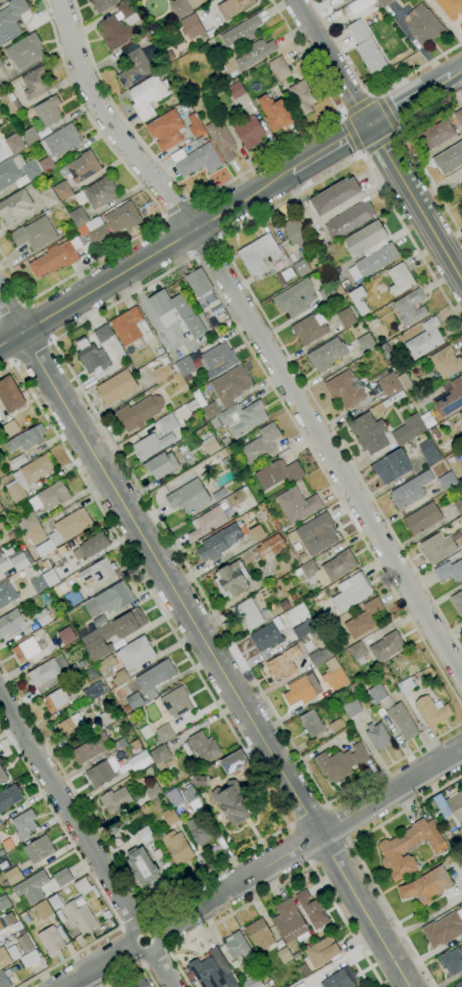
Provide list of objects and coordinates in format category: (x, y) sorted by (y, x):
building: (1, 0)
building: (346, 0)
building: (342, 1)
building: (384, 2)
building: (102, 4)
building: (233, 7)
building: (450, 8)
building: (180, 9)
building: (11, 20)
building: (423, 25)
building: (118, 26)
building: (191, 26)
building: (358, 31)
building: (240, 33)
building: (24, 51)
building: (254, 54)
building: (372, 58)
road: (333, 61)
building: (1, 64)
building: (134, 68)
building: (222, 68)
building: (279, 68)
road: (458, 72)
building: (36, 82)
building: (236, 90)
road: (367, 91)
road: (375, 95)
building: (148, 96)
building: (303, 96)
road: (412, 99)
building: (10, 103)
road: (358, 105)
building: (216, 106)
road: (417, 110)
building: (48, 111)
building: (274, 113)
road: (386, 113)
road: (341, 115)
building: (459, 116)
traffic signals: (370, 124)
building: (195, 125)
building: (166, 130)
road: (398, 131)
road: (350, 132)
building: (249, 133)
building: (436, 134)
building: (13, 139)
building: (221, 139)
building: (199, 140)
road: (379, 141)
building: (59, 144)
road: (330, 148)
road: (411, 152)
road: (361, 155)
building: (449, 159)
building: (196, 160)
building: (83, 167)
building: (18, 172)
road: (223, 184)
building: (31, 190)
building: (62, 190)
building: (461, 190)
building: (97, 193)
building: (47, 195)
building: (335, 196)
road: (153, 200)
road: (416, 200)
building: (14, 207)
building: (78, 217)
building: (349, 220)
building: (116, 223)
building: (83, 230)
building: (35, 234)
building: (297, 235)
building: (371, 247)
road: (207, 249)
building: (258, 253)
building: (56, 257)
road: (145, 259)
building: (301, 267)
building: (287, 274)
building: (400, 279)
building: (280, 280)
road: (247, 291)
building: (330, 291)
building: (202, 294)
building: (355, 296)
building: (295, 298)
building: (409, 308)
road: (14, 309)
building: (176, 312)
building: (346, 318)
road: (40, 322)
building: (130, 327)
building: (310, 328)
road: (260, 336)
building: (425, 339)
road: (53, 342)
building: (366, 343)
building: (160, 351)
building: (97, 352)
building: (387, 352)
road: (6, 353)
road: (33, 353)
building: (327, 354)
building: (218, 360)
building: (446, 362)
building: (393, 365)
building: (185, 366)
building: (161, 371)
building: (404, 381)
building: (389, 385)
building: (230, 386)
building: (116, 387)
building: (344, 390)
building: (10, 395)
building: (199, 398)
building: (449, 398)
building: (192, 405)
building: (211, 410)
building: (139, 412)
building: (460, 415)
building: (240, 417)
building: (168, 423)
building: (10, 428)
building: (408, 429)
building: (369, 433)
building: (26, 439)
building: (226, 440)
building: (261, 444)
building: (151, 445)
building: (210, 445)
building: (429, 452)
building: (17, 461)
building: (225, 462)
building: (160, 465)
building: (392, 467)
building: (277, 473)
building: (28, 476)
building: (447, 481)
building: (410, 490)
building: (49, 497)
building: (188, 497)
building: (296, 505)
building: (459, 506)
building: (423, 518)
building: (28, 521)
building: (207, 522)
building: (70, 526)
building: (256, 533)
building: (315, 534)
building: (11, 535)
building: (35, 535)
building: (219, 542)
building: (70, 544)
building: (92, 546)
building: (270, 547)
building: (437, 547)
building: (43, 548)
building: (61, 550)
building: (302, 558)
building: (16, 559)
building: (46, 564)
building: (329, 567)
building: (98, 571)
building: (449, 571)
building: (232, 579)
building: (44, 581)
building: (351, 592)
building: (7, 594)
building: (72, 597)
building: (112, 599)
building: (457, 601)
building: (284, 605)
building: (248, 614)
building: (42, 617)
building: (461, 618)
building: (364, 619)
building: (321, 621)
building: (98, 622)
building: (10, 623)
building: (304, 629)
building: (112, 633)
building: (66, 635)
building: (268, 635)
road: (205, 640)
building: (387, 647)
building: (25, 650)
building: (357, 650)
building: (135, 652)
building: (319, 656)
building: (283, 663)
building: (106, 665)
building: (71, 671)
building: (43, 673)
building: (334, 675)
building: (119, 677)
building: (155, 677)
building: (406, 686)
building: (354, 687)
building: (302, 690)
building: (95, 691)
building: (56, 700)
building: (133, 702)
building: (176, 703)
building: (352, 708)
building: (432, 711)
building: (394, 712)
building: (107, 717)
building: (311, 724)
building: (71, 725)
building: (336, 725)
building: (164, 733)
building: (378, 736)
building: (119, 744)
building: (202, 748)
building: (86, 752)
building: (160, 754)
building: (139, 761)
building: (232, 762)
building: (340, 763)
building: (100, 774)
building: (3, 777)
building: (201, 780)
road: (262, 785)
building: (153, 792)
building: (9, 797)
building: (174, 798)
building: (191, 798)
building: (115, 800)
building: (231, 802)
building: (450, 805)
road: (68, 808)
building: (170, 816)
road: (307, 816)
road: (338, 824)
building: (24, 825)
building: (461, 828)
building: (199, 831)
building: (145, 834)
road: (310, 840)
road: (300, 847)
building: (177, 848)
building: (39, 849)
building: (391, 850)
building: (1, 852)
road: (330, 854)
road: (359, 858)
building: (142, 866)
building: (13, 876)
road: (88, 876)
building: (63, 878)
road: (282, 883)
building: (426, 886)
building: (31, 888)
building: (85, 888)
building: (4, 902)
building: (54, 902)
building: (43, 910)
building: (315, 913)
building: (81, 914)
building: (106, 914)
building: (60, 915)
building: (9, 918)
road: (132, 922)
building: (290, 922)
building: (444, 929)
building: (259, 933)
building: (51, 941)
building: (25, 943)
building: (237, 946)
building: (293, 948)
road: (138, 951)
building: (321, 951)
building: (285, 956)
building: (4, 958)
building: (31, 959)
road: (156, 959)
building: (220, 960)
building: (452, 961)
road: (98, 966)
road: (162, 969)
road: (137, 971)
building: (304, 971)
building: (210, 974)
building: (340, 979)
building: (4, 980)
building: (252, 982)
building: (141, 983)
building: (458, 984)
building: (301, 985)

